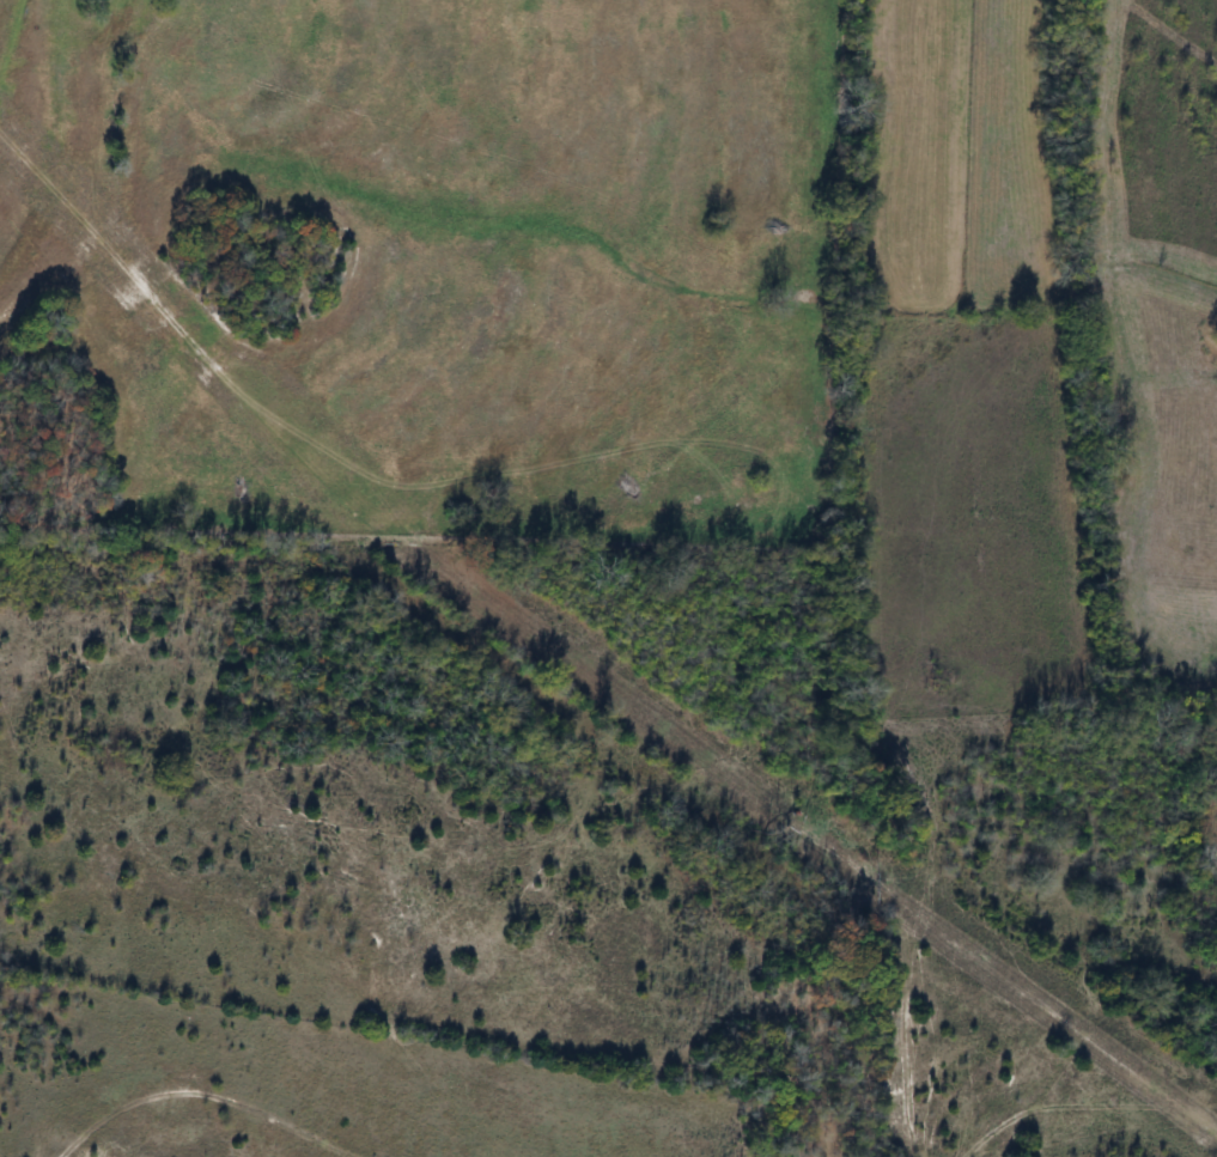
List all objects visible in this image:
airport runway: (927, 156)

